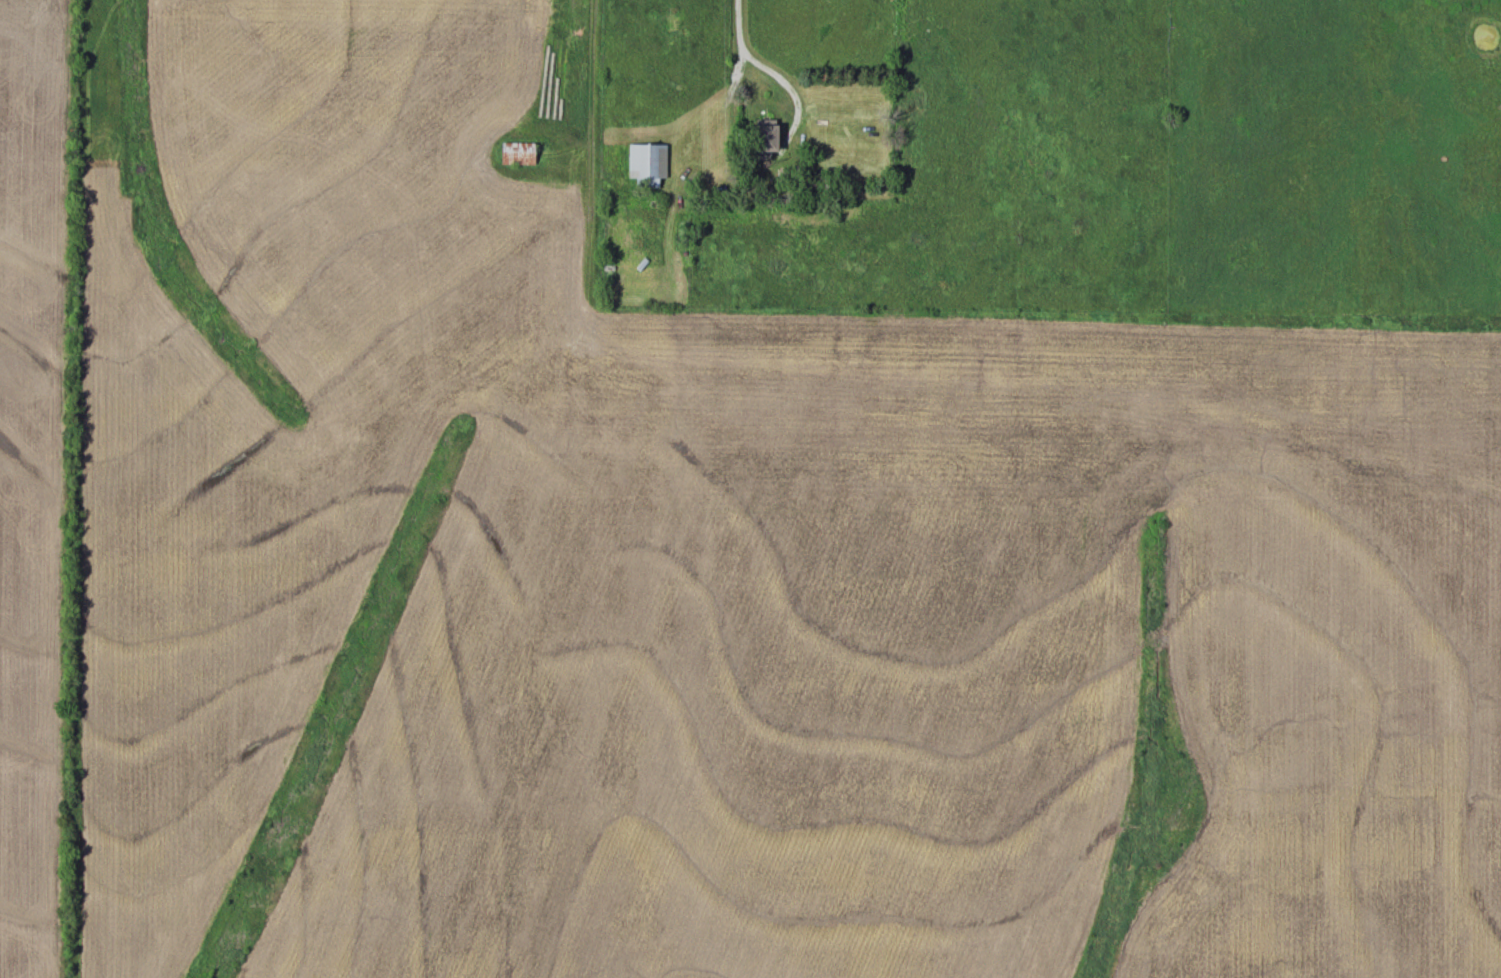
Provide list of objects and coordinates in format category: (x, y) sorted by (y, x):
road: (752, 66)
building: (765, 137)
building: (518, 154)
building: (647, 164)

